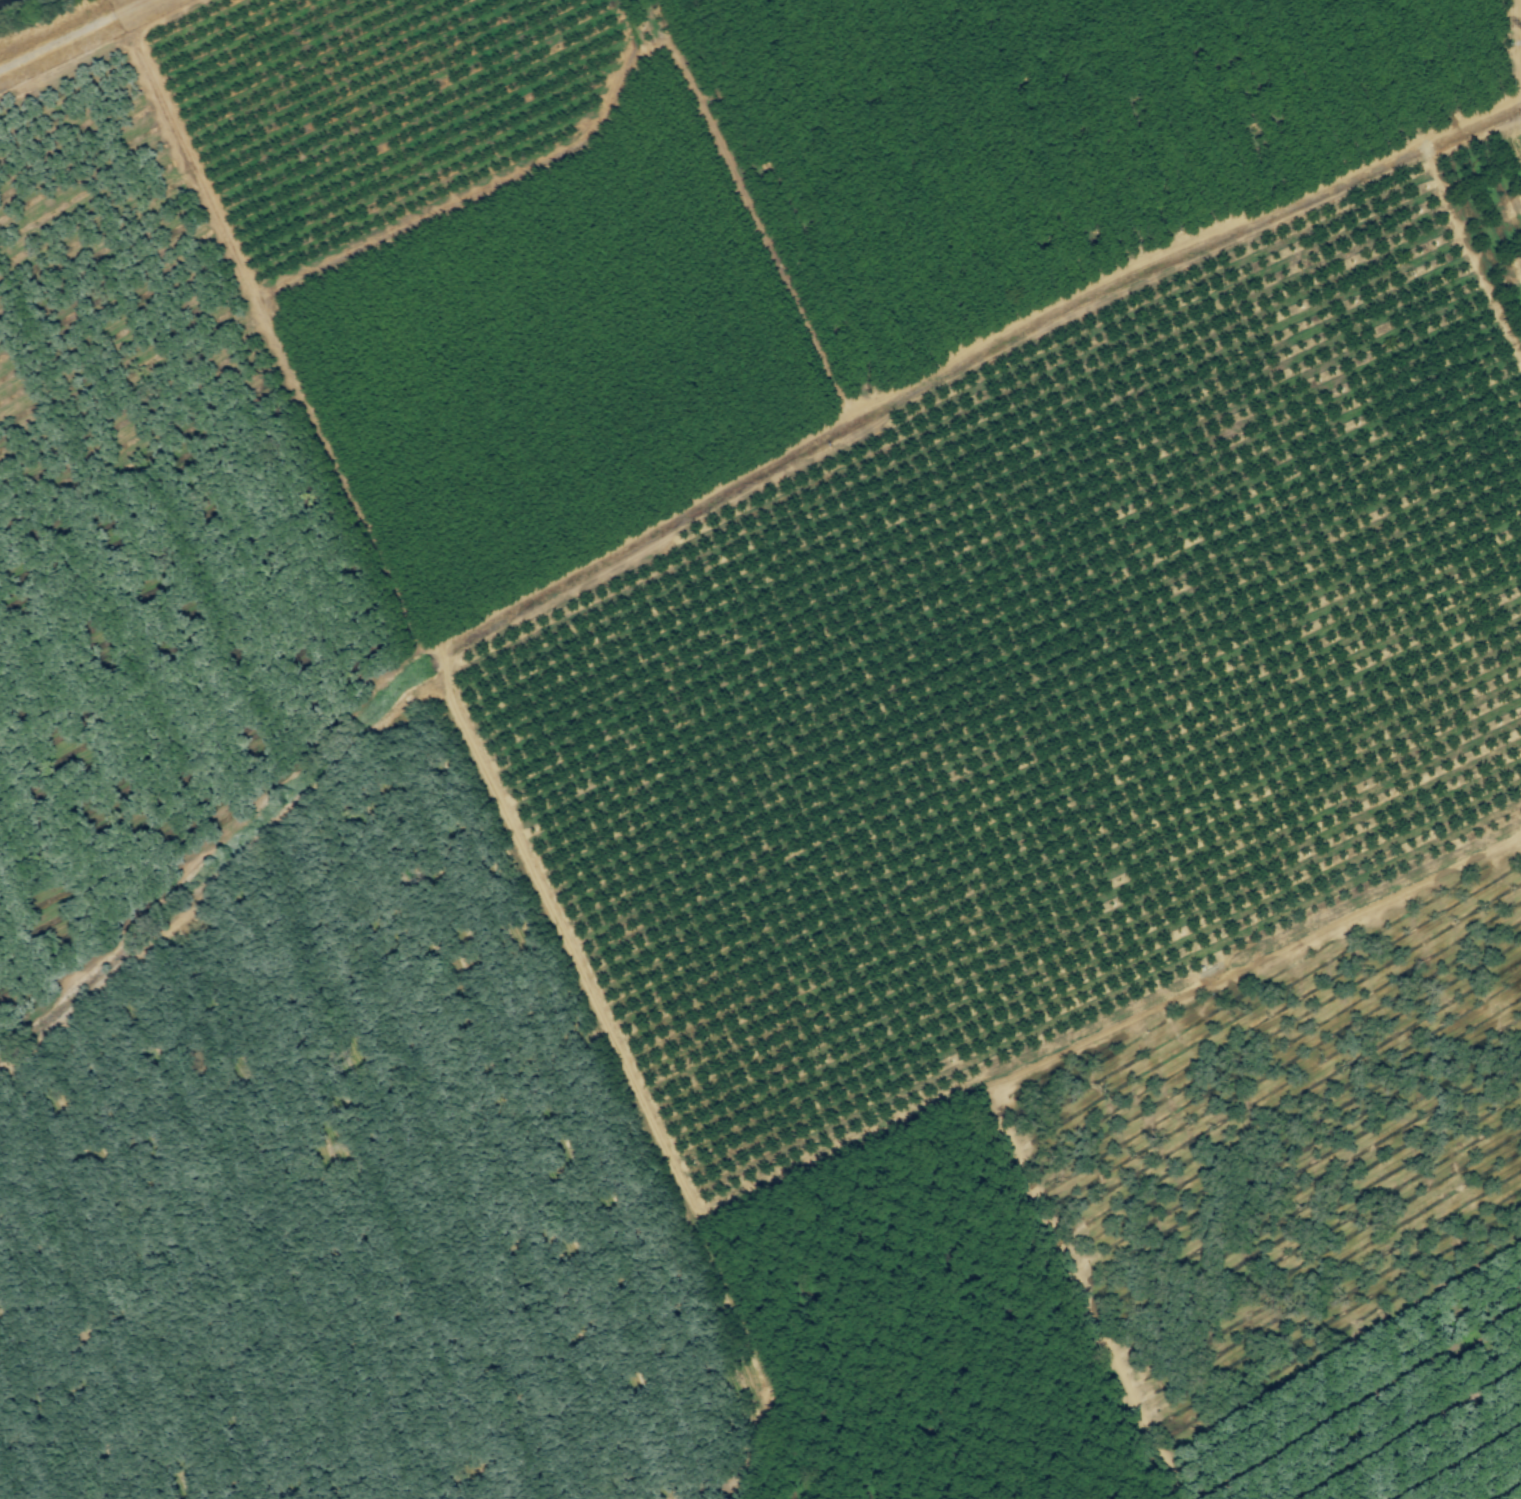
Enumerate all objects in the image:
road: (159, 864)

